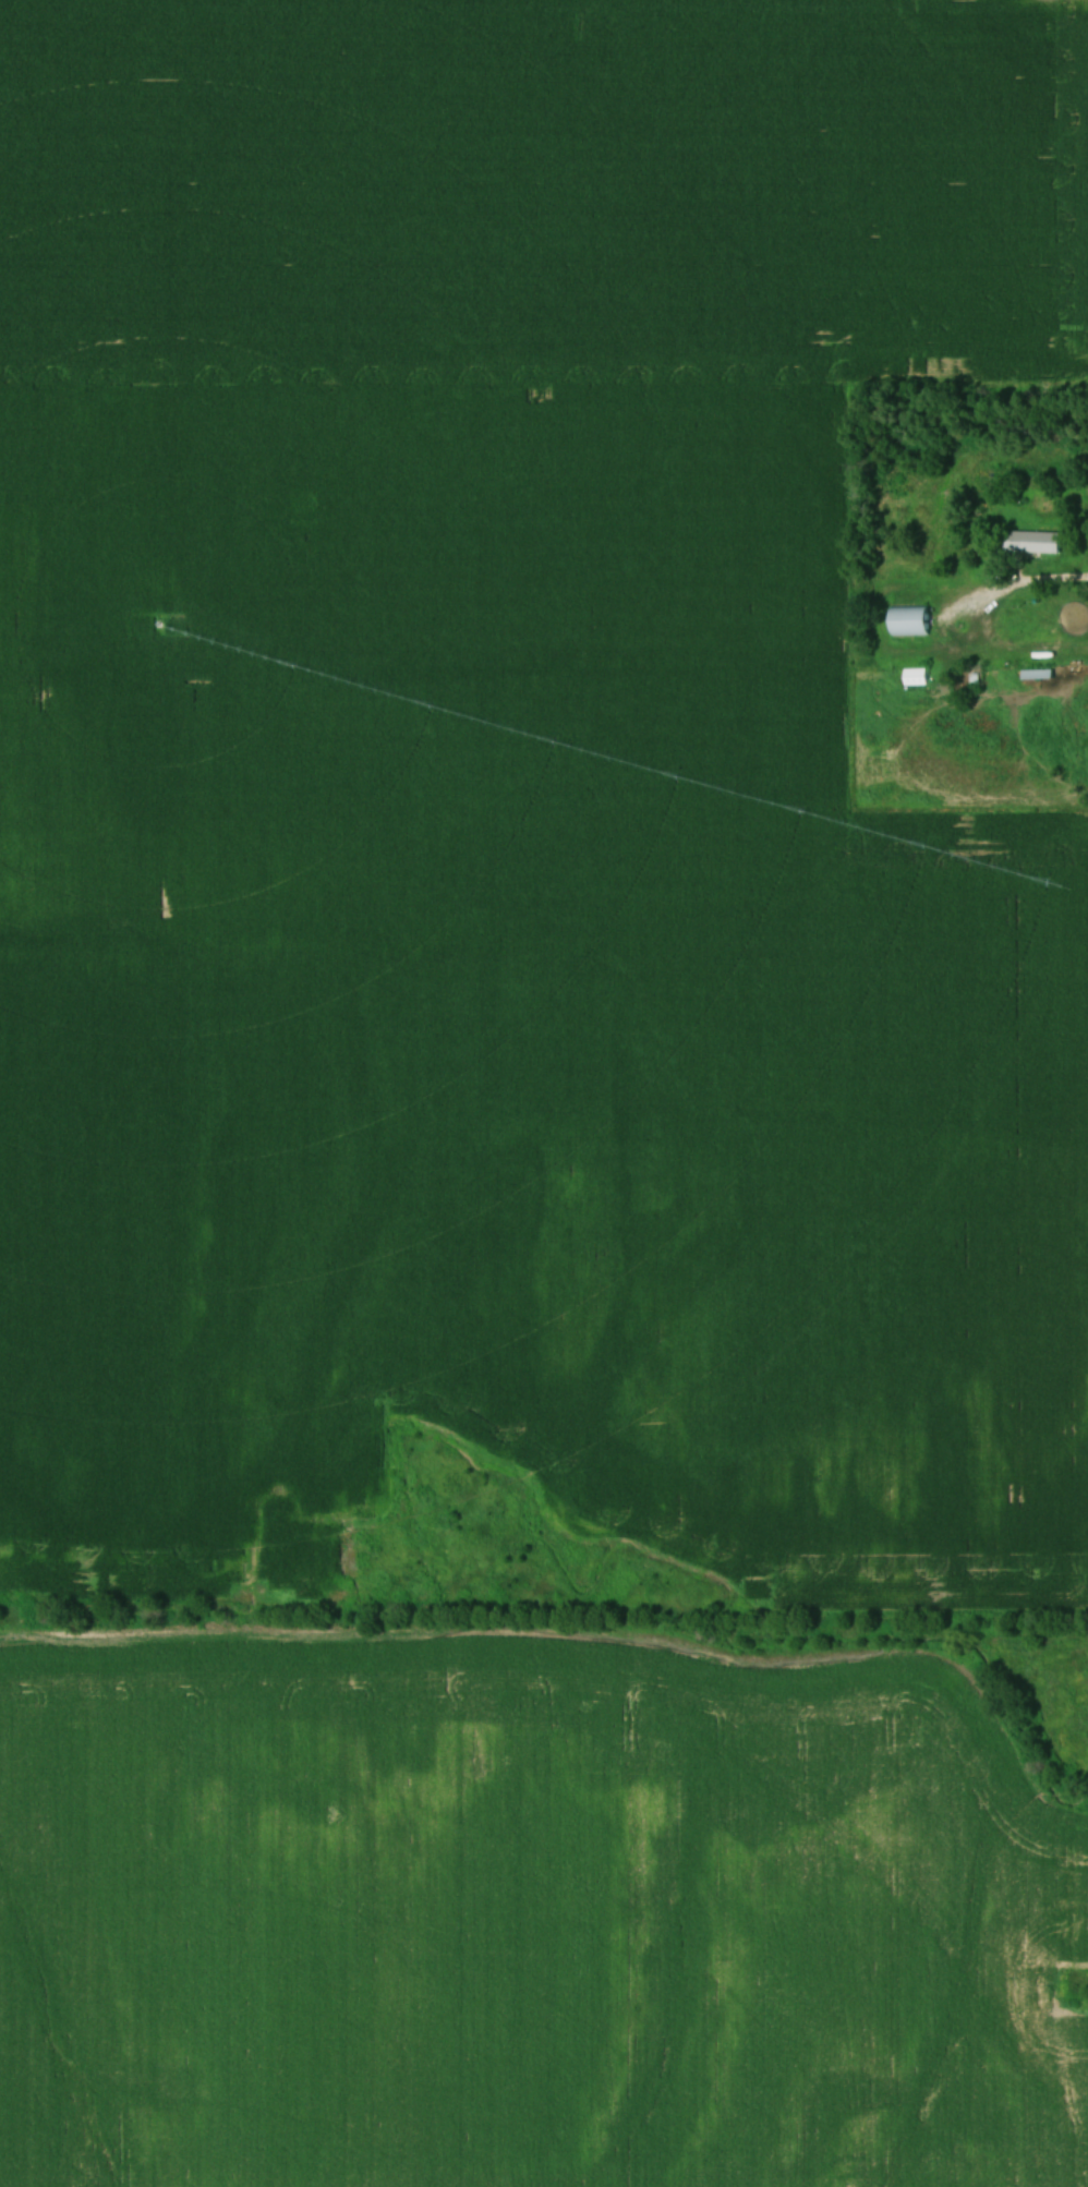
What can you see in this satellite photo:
building: (1037, 543)
road: (1010, 585)
building: (910, 620)
building: (1042, 640)
building: (1038, 674)

